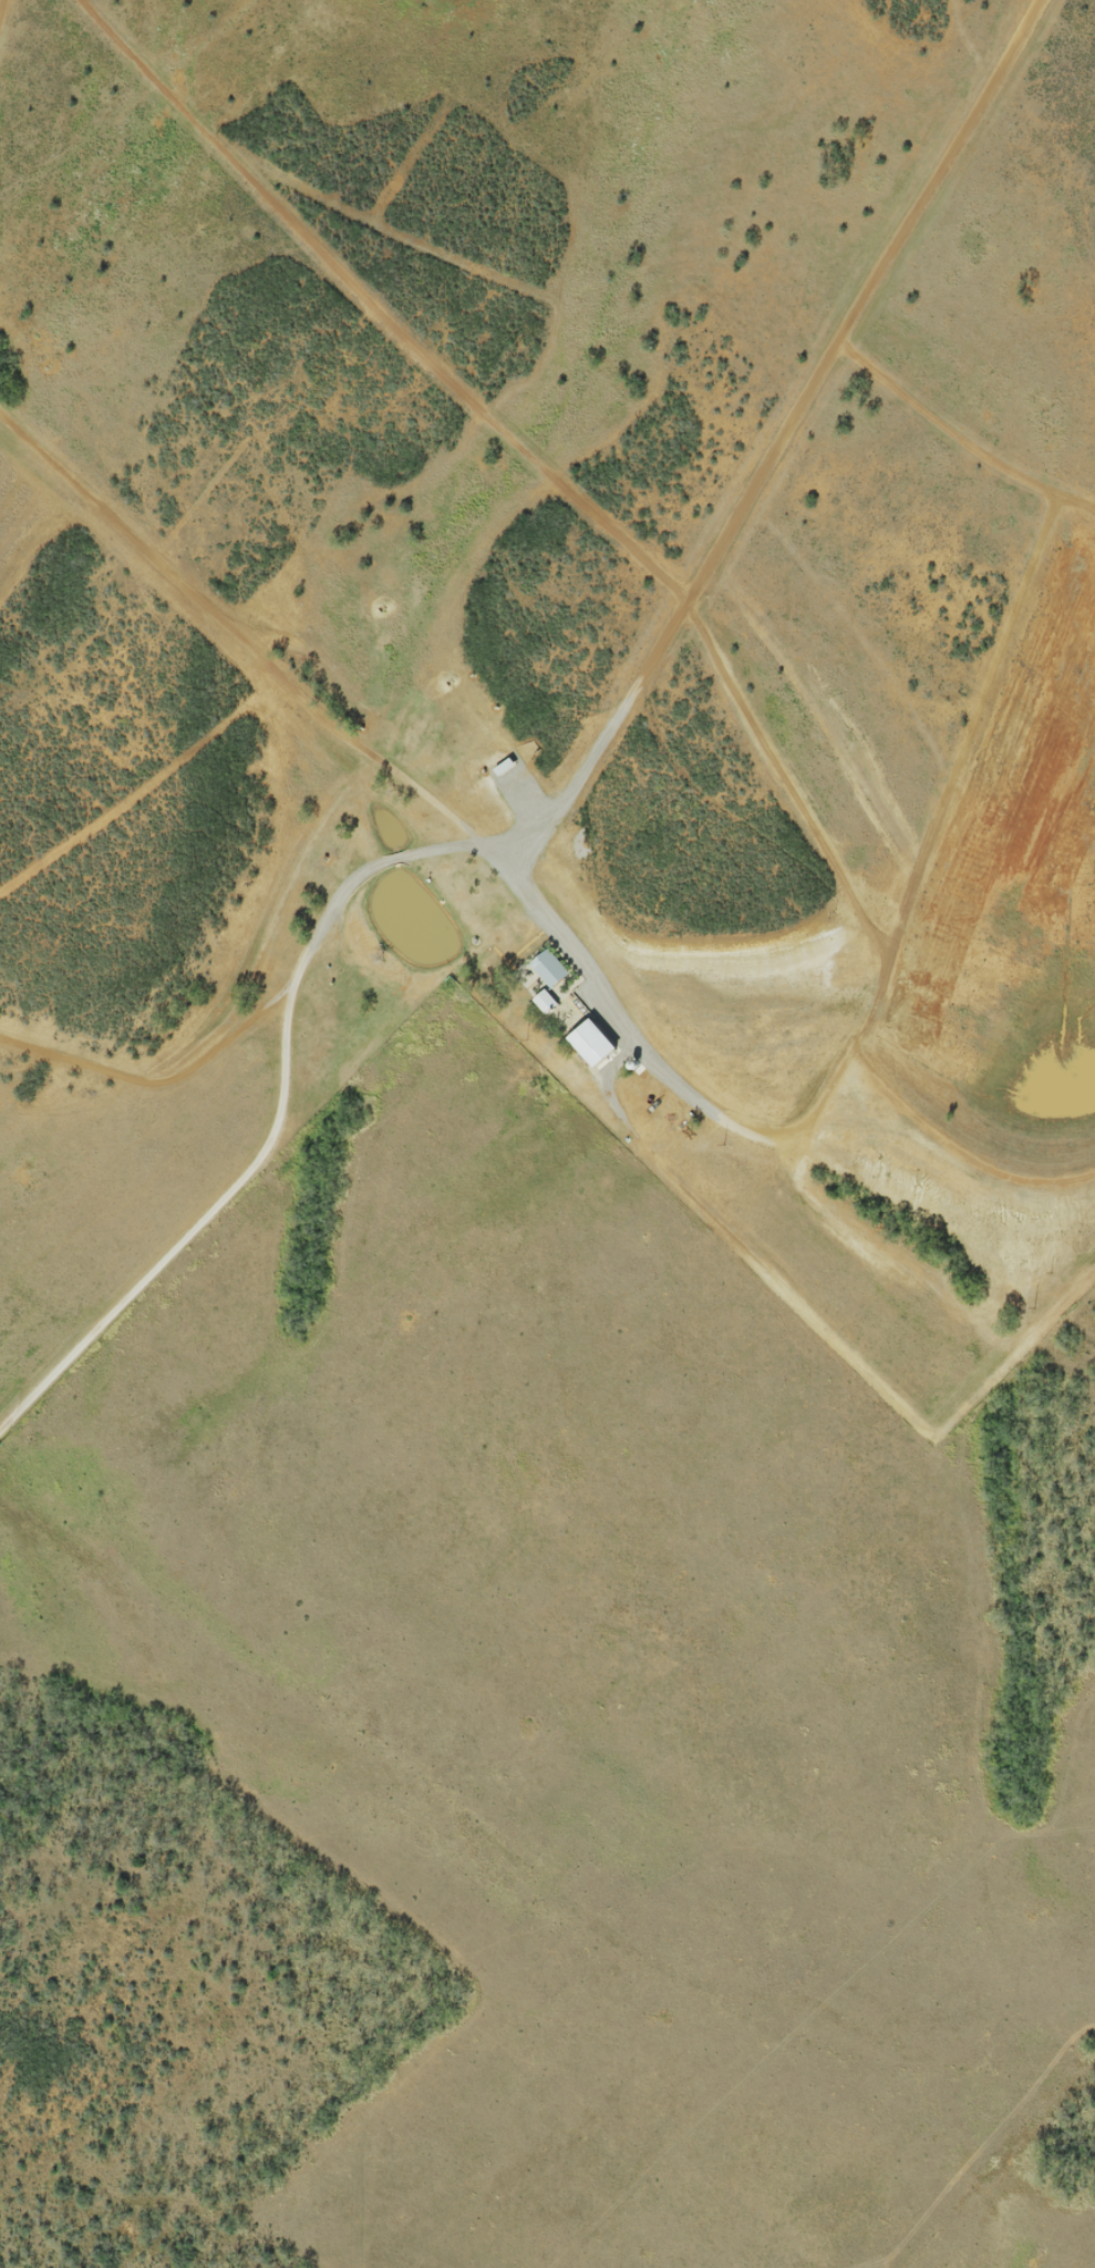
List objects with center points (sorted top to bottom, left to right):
road: (795, 437)
road: (517, 862)
building: (549, 972)

